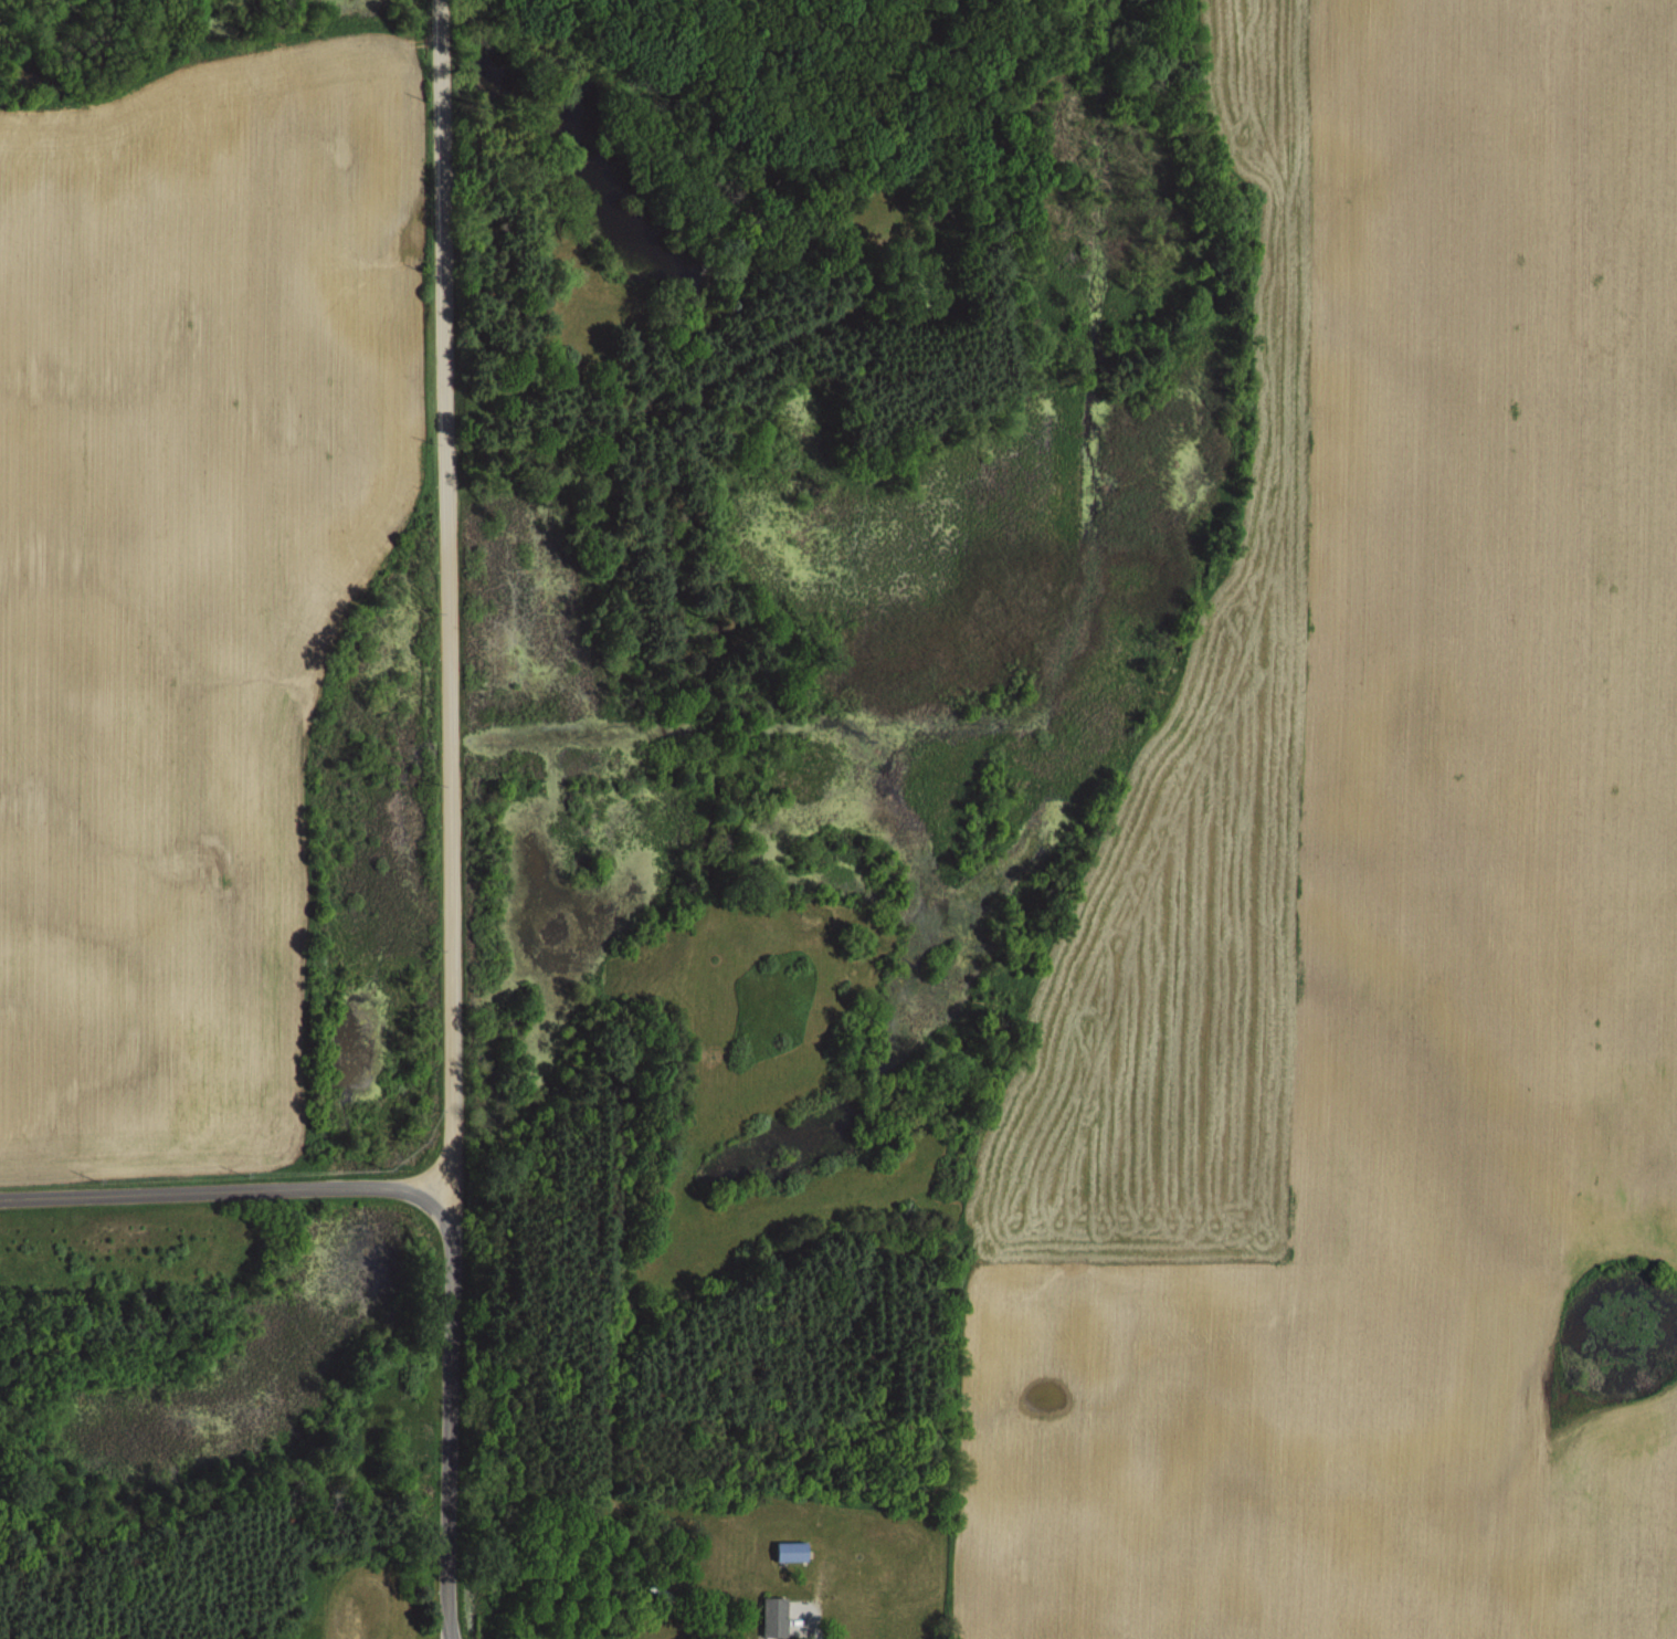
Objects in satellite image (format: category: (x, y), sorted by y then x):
road: (447, 616)
road: (424, 1180)
road: (234, 1191)
road: (449, 1436)
building: (794, 1551)
building: (777, 1617)

